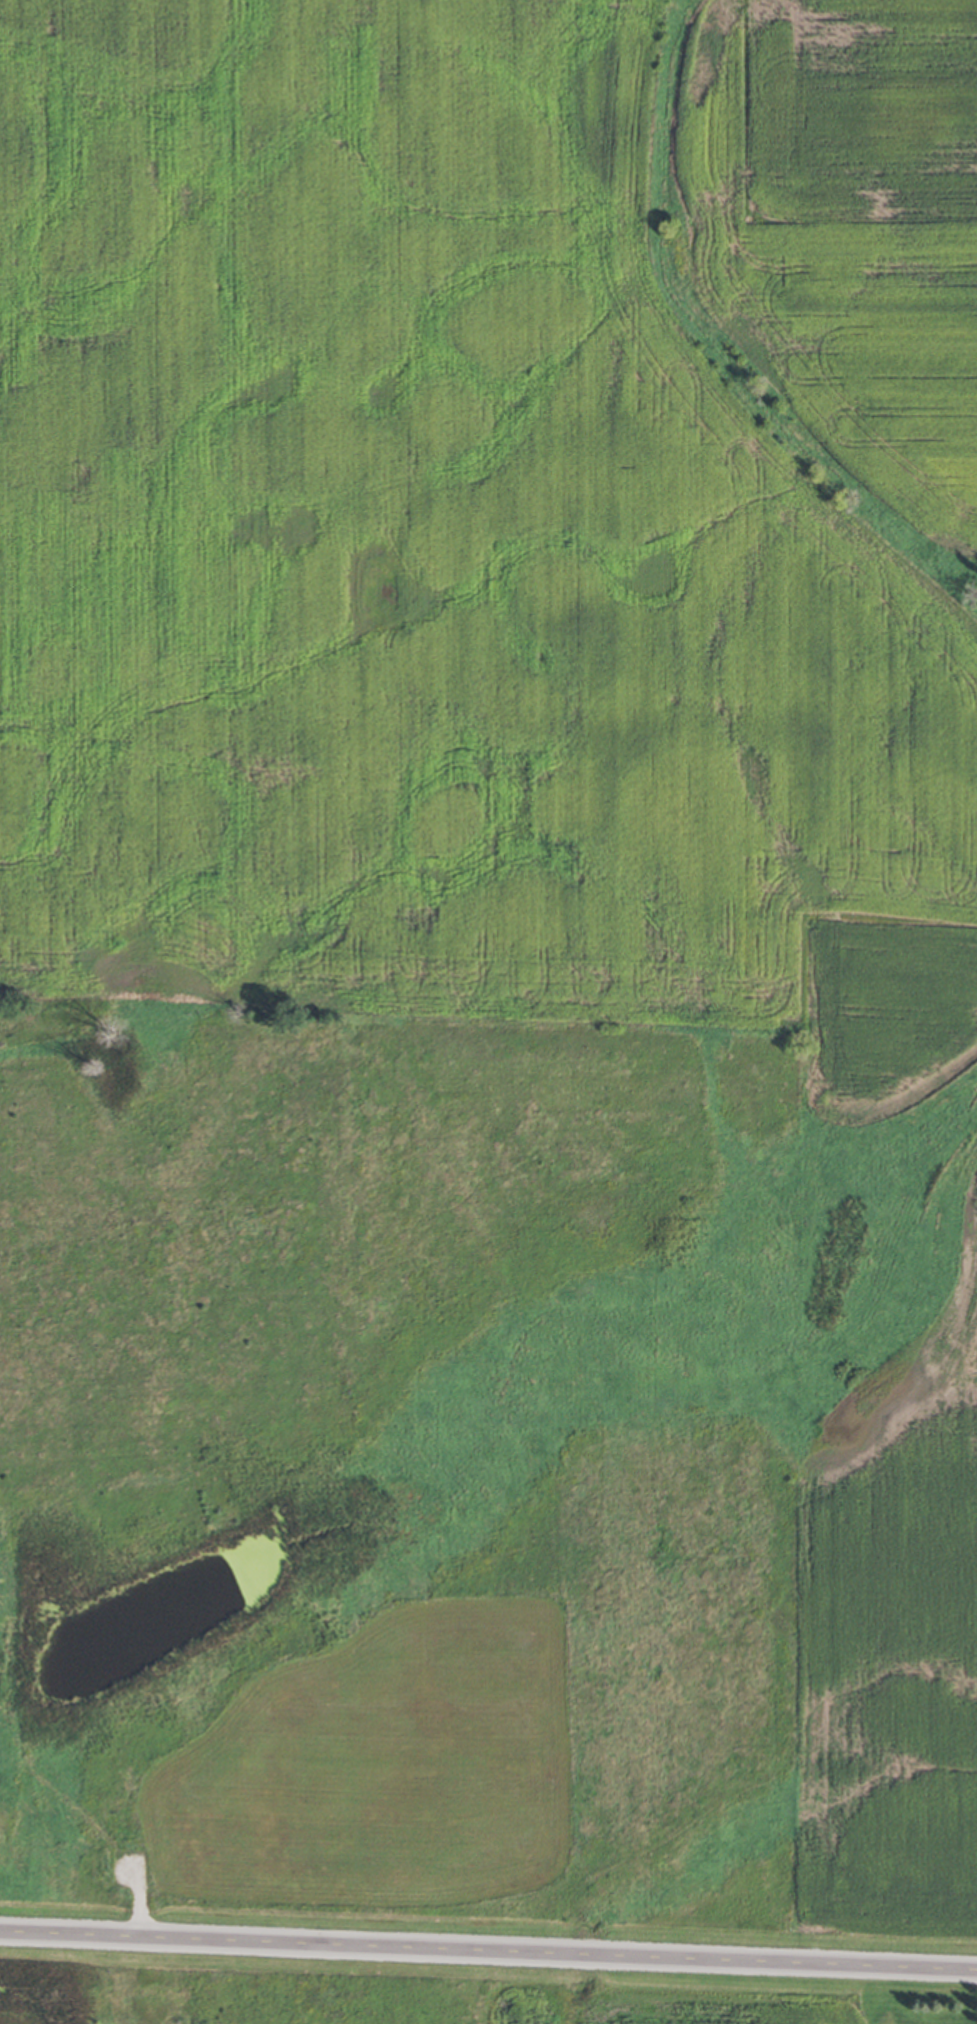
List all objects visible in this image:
road: (488, 1949)

